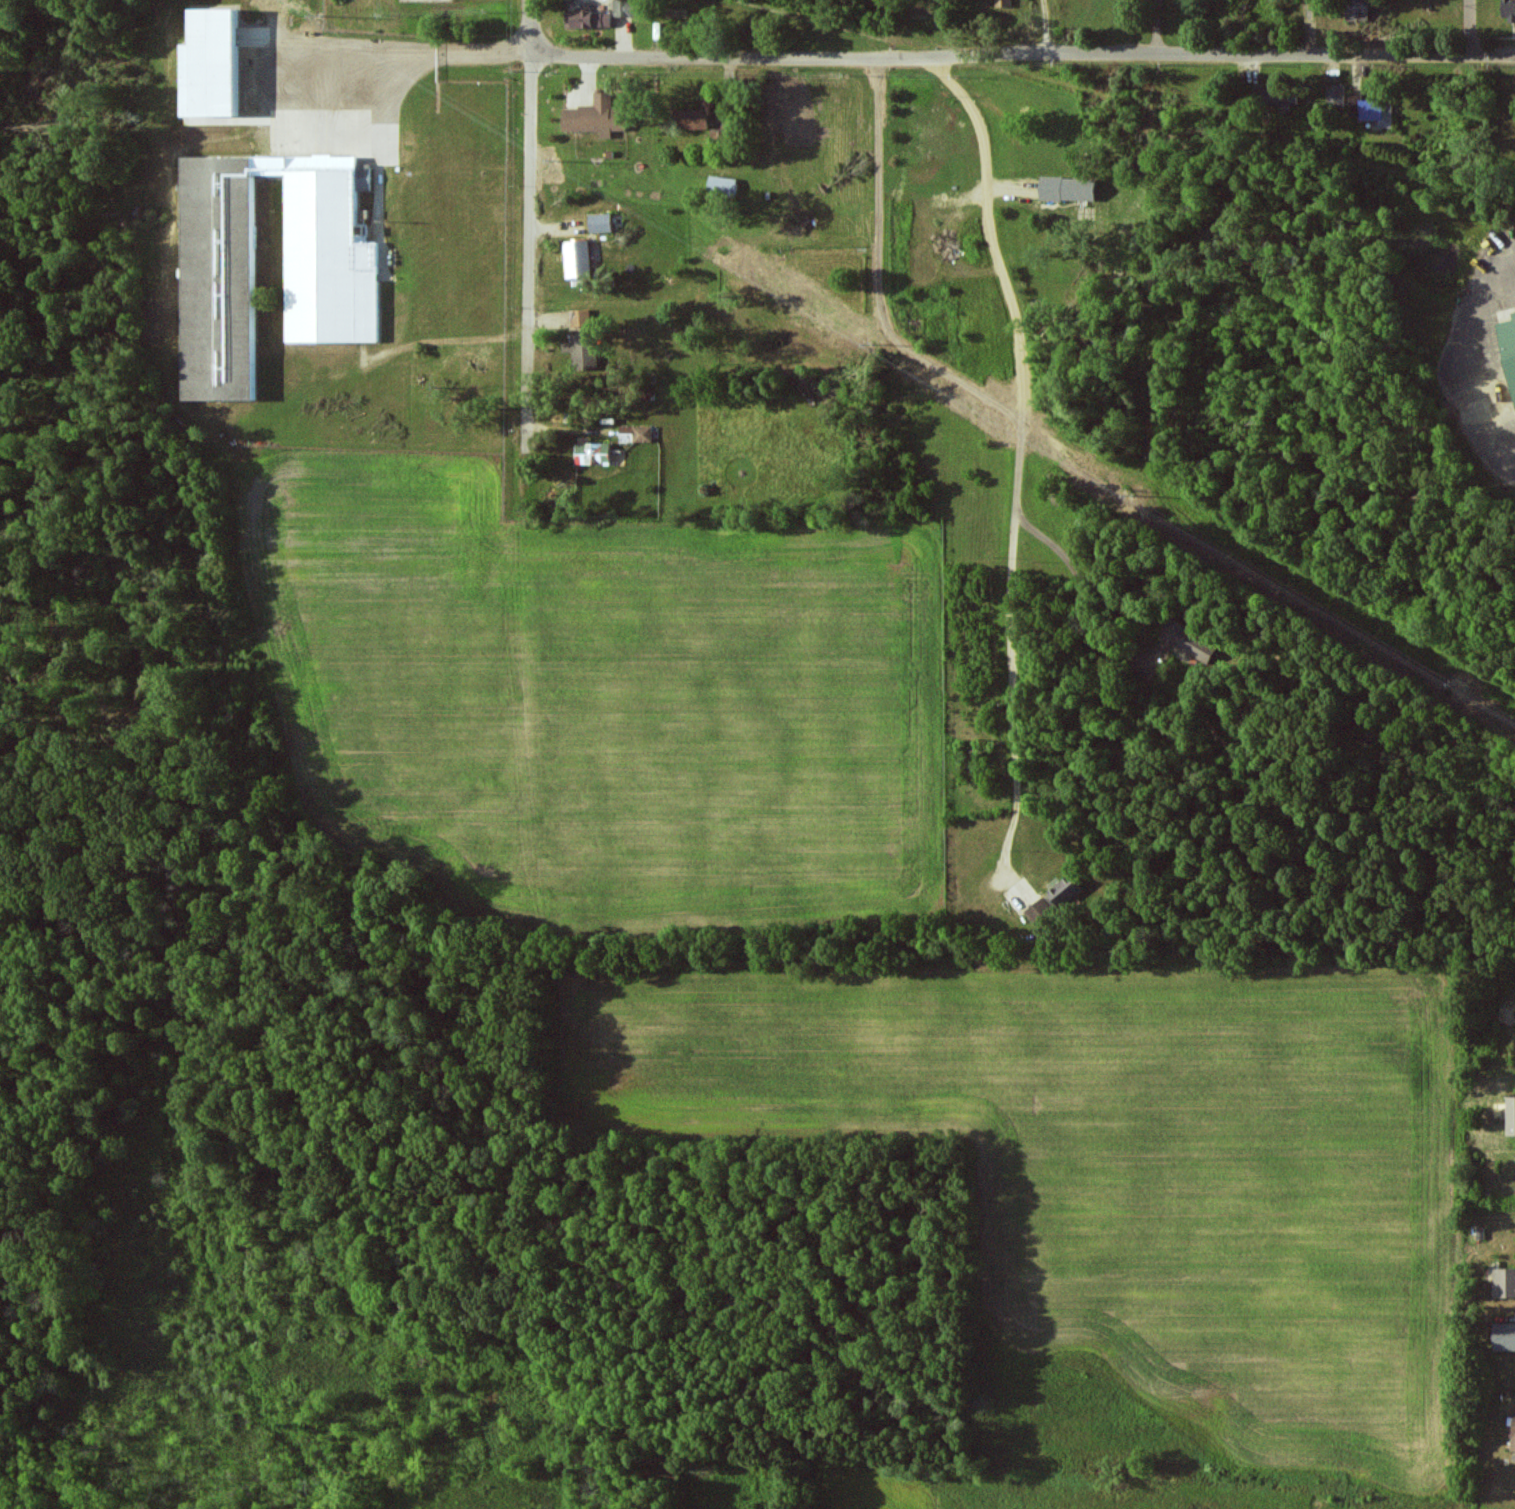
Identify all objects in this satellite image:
power substation: (428, 0)
building: (1003, 3)
building: (624, 8)
building: (1360, 8)
building: (1508, 9)
building: (587, 20)
road: (1469, 29)
road: (961, 58)
building: (210, 65)
building: (1335, 96)
building: (1278, 98)
building: (1369, 110)
building: (593, 115)
building: (690, 119)
building: (722, 186)
building: (1067, 189)
building: (600, 223)
road: (533, 227)
building: (578, 259)
building: (336, 296)
building: (581, 319)
building: (1510, 343)
building: (582, 351)
road: (1022, 401)
building: (636, 434)
building: (593, 453)
road: (1092, 608)
building: (1190, 640)
building: (1065, 891)
building: (1041, 912)
building: (1510, 1116)
building: (1504, 1283)
building: (1504, 1337)
building: (1513, 1435)

